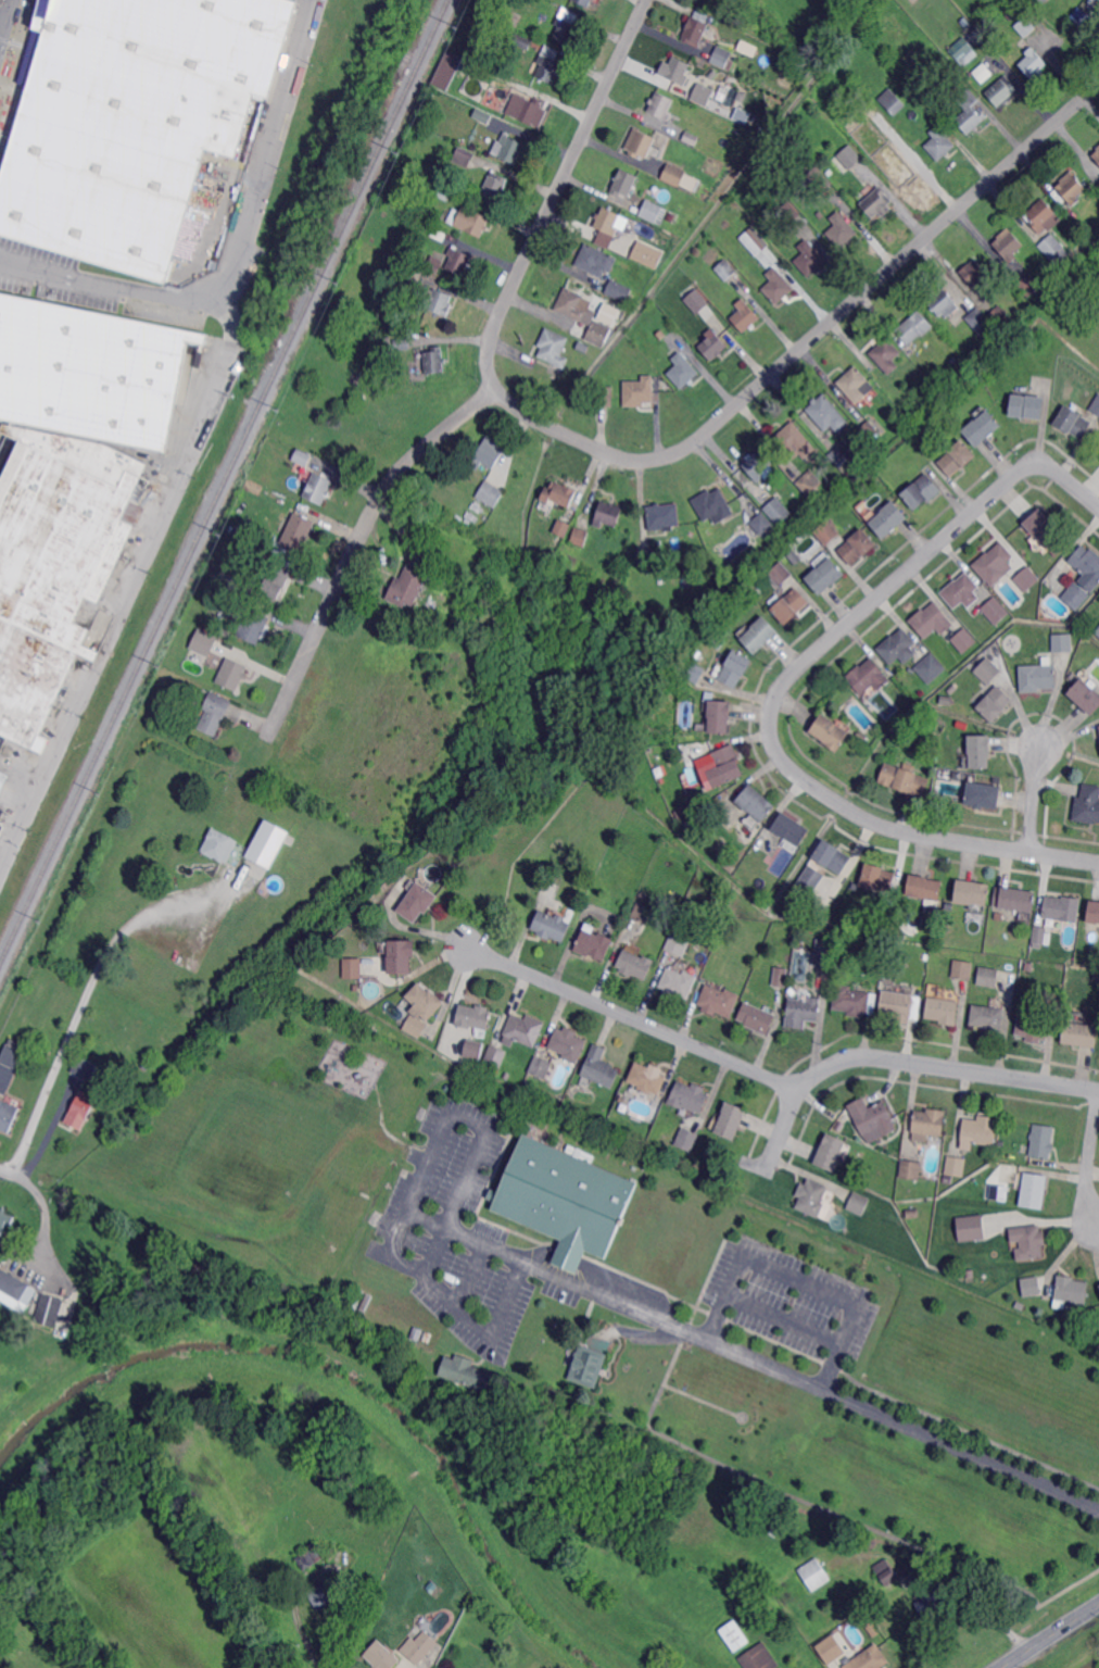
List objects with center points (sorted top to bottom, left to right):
building: (1041, 1)
building: (585, 2)
building: (761, 4)
road: (4, 14)
building: (1081, 16)
building: (515, 18)
road: (7, 22)
building: (965, 22)
building: (1022, 24)
building: (567, 26)
building: (695, 30)
building: (522, 41)
building: (964, 52)
building: (723, 58)
building: (1034, 63)
building: (548, 65)
building: (446, 70)
building: (679, 71)
building: (982, 74)
building: (1002, 91)
building: (702, 95)
building: (493, 98)
building: (893, 101)
building: (662, 105)
building: (531, 110)
building: (971, 112)
building: (483, 116)
building: (132, 122)
building: (889, 131)
building: (692, 138)
building: (641, 143)
building: (940, 143)
building: (1098, 148)
building: (509, 149)
building: (1097, 155)
building: (464, 156)
building: (847, 158)
building: (905, 170)
building: (831, 172)
building: (1, 175)
building: (674, 175)
building: (817, 180)
building: (425, 183)
building: (622, 184)
building: (496, 187)
building: (1072, 188)
building: (442, 191)
building: (876, 202)
building: (652, 210)
building: (787, 213)
building: (1044, 216)
building: (608, 221)
building: (473, 222)
building: (842, 230)
building: (1092, 233)
building: (755, 240)
building: (1009, 244)
building: (1053, 250)
road: (228, 251)
building: (648, 255)
building: (810, 259)
building: (459, 261)
building: (596, 261)
building: (434, 264)
building: (727, 269)
building: (974, 272)
building: (409, 274)
building: (1031, 285)
building: (778, 286)
building: (619, 290)
building: (695, 299)
building: (440, 302)
building: (944, 302)
building: (574, 308)
building: (1010, 312)
building: (607, 313)
building: (745, 316)
building: (999, 317)
building: (661, 324)
building: (981, 324)
building: (915, 327)
building: (597, 335)
building: (403, 344)
building: (713, 344)
building: (554, 347)
building: (887, 355)
building: (434, 361)
building: (683, 371)
building: (857, 384)
building: (640, 391)
building: (604, 396)
building: (1027, 405)
building: (1096, 405)
building: (828, 413)
building: (1073, 422)
building: (983, 427)
building: (871, 428)
building: (796, 441)
building: (845, 454)
building: (483, 455)
building: (303, 456)
building: (958, 457)
road: (645, 460)
building: (758, 465)
building: (852, 473)
railway: (224, 479)
road: (1069, 480)
building: (68, 481)
building: (810, 481)
building: (319, 488)
building: (922, 491)
building: (491, 493)
building: (559, 493)
building: (713, 505)
building: (776, 512)
building: (608, 514)
building: (665, 516)
building: (795, 517)
building: (888, 518)
building: (760, 524)
building: (787, 524)
building: (563, 527)
building: (1043, 527)
building: (298, 531)
building: (828, 531)
building: (581, 536)
building: (858, 547)
road: (357, 548)
building: (240, 554)
building: (646, 555)
building: (793, 557)
building: (993, 560)
building: (1087, 562)
building: (779, 574)
road: (135, 576)
building: (825, 576)
building: (277, 578)
building: (1026, 579)
building: (409, 585)
building: (962, 591)
building: (226, 592)
building: (1076, 595)
building: (788, 606)
building: (994, 611)
building: (932, 620)
building: (255, 626)
building: (1098, 630)
building: (711, 634)
building: (760, 634)
building: (963, 641)
building: (1063, 642)
building: (203, 643)
building: (898, 647)
building: (931, 667)
building: (735, 668)
building: (235, 669)
building: (988, 670)
building: (694, 672)
building: (869, 676)
building: (1073, 676)
building: (1038, 677)
building: (952, 688)
building: (685, 691)
building: (1086, 695)
building: (996, 704)
building: (215, 713)
building: (859, 714)
building: (718, 717)
road: (771, 723)
building: (1098, 726)
building: (830, 731)
building: (863, 738)
building: (980, 751)
building: (680, 758)
building: (728, 764)
building: (906, 779)
building: (998, 779)
building: (4, 785)
building: (983, 794)
road: (1034, 799)
building: (756, 802)
building: (1088, 804)
building: (1, 814)
building: (1, 829)
building: (789, 829)
building: (266, 842)
building: (226, 848)
building: (753, 853)
building: (833, 856)
building: (879, 877)
building: (810, 881)
building: (925, 887)
building: (973, 892)
building: (643, 896)
building: (1015, 899)
building: (416, 903)
building: (1063, 908)
building: (642, 913)
building: (1094, 914)
building: (551, 927)
building: (1040, 935)
building: (727, 939)
building: (679, 942)
building: (595, 944)
building: (825, 954)
building: (402, 956)
building: (927, 956)
building: (1081, 963)
building: (635, 964)
building: (353, 968)
building: (962, 968)
building: (781, 976)
building: (987, 976)
building: (679, 983)
building: (355, 988)
road: (85, 991)
building: (793, 991)
building: (719, 1000)
building: (425, 1001)
building: (852, 1001)
building: (896, 1006)
building: (803, 1011)
building: (942, 1011)
building: (473, 1016)
building: (757, 1017)
building: (362, 1018)
building: (986, 1018)
road: (634, 1019)
building: (416, 1026)
building: (1032, 1027)
building: (523, 1030)
building: (1079, 1034)
building: (569, 1044)
building: (472, 1048)
building: (12, 1054)
building: (457, 1054)
building: (495, 1055)
road: (899, 1061)
building: (83, 1067)
building: (541, 1067)
building: (601, 1067)
building: (507, 1075)
building: (647, 1079)
building: (690, 1096)
building: (79, 1108)
building: (7, 1116)
building: (872, 1117)
building: (730, 1120)
building: (926, 1125)
road: (483, 1130)
building: (978, 1131)
building: (1041, 1142)
building: (684, 1145)
building: (831, 1153)
building: (955, 1166)
road: (1089, 1168)
building: (910, 1170)
road: (10, 1171)
building: (948, 1179)
building: (1032, 1190)
building: (810, 1197)
building: (567, 1199)
building: (857, 1203)
building: (912, 1212)
building: (4, 1220)
building: (975, 1227)
road: (42, 1231)
building: (1027, 1242)
building: (1098, 1283)
building: (1028, 1287)
building: (1071, 1290)
building: (15, 1292)
building: (1020, 1304)
building: (49, 1310)
building: (589, 1366)
building: (467, 1372)
road: (843, 1397)
building: (776, 1532)
building: (870, 1541)
building: (311, 1556)
building: (887, 1572)
building: (814, 1573)
building: (324, 1593)
building: (931, 1595)
building: (735, 1634)
road: (1050, 1635)
building: (419, 1647)
building: (819, 1647)
building: (381, 1656)
building: (760, 1657)
building: (870, 1658)
road: (310, 1666)

